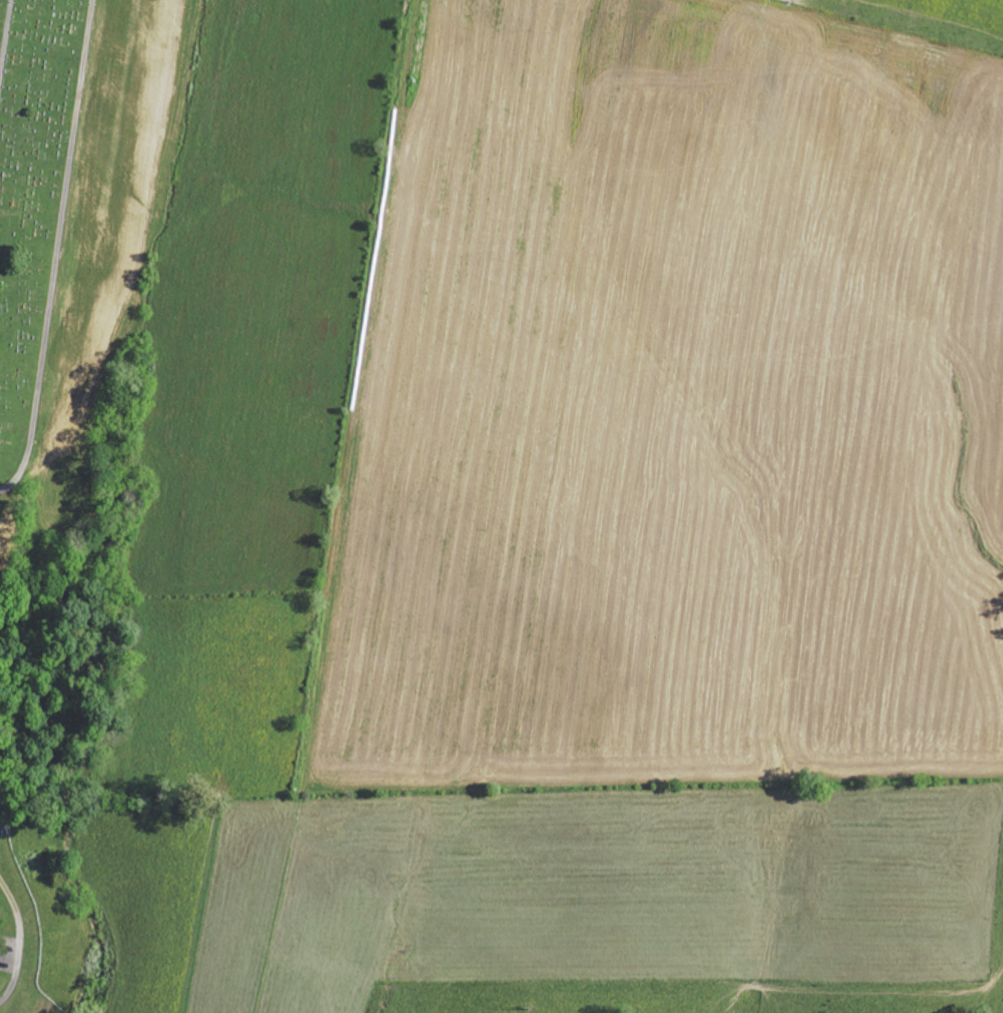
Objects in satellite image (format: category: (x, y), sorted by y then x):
road: (5, 44)
park: (34, 218)
road: (57, 251)

